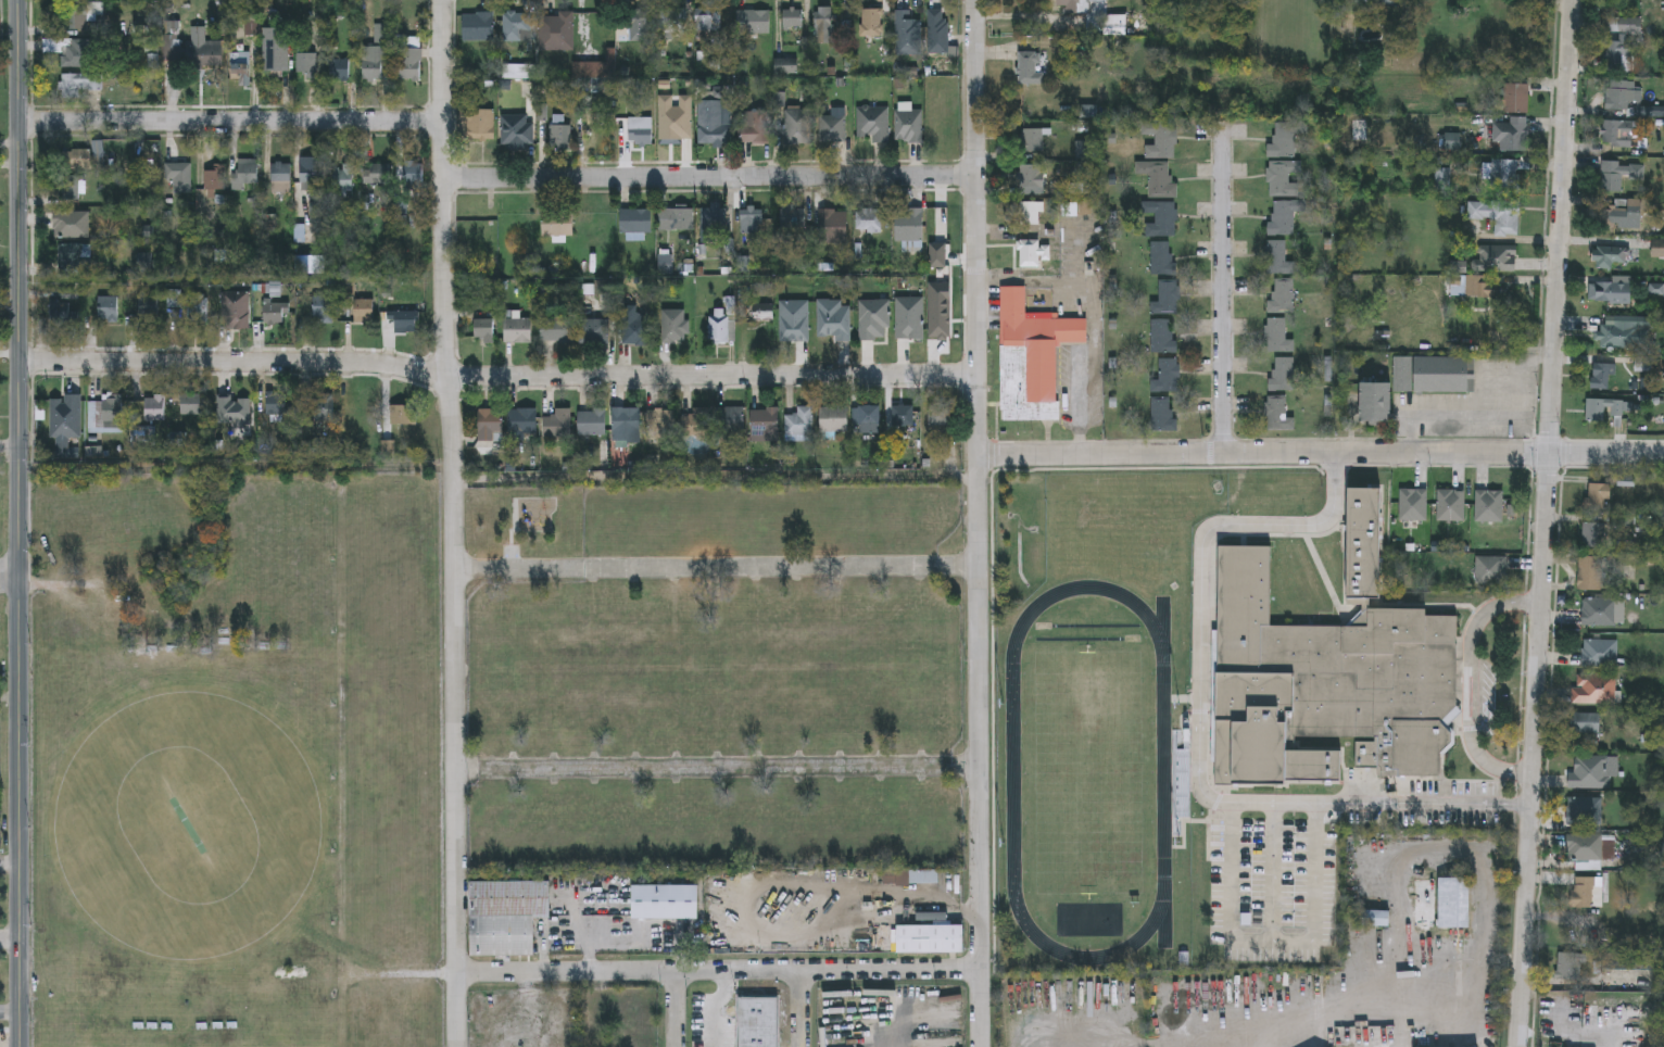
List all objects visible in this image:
building: (76, 0)
building: (1385, 2)
building: (1072, 7)
building: (73, 16)
building: (792, 18)
building: (672, 20)
building: (707, 20)
building: (753, 22)
building: (871, 22)
building: (824, 24)
building: (478, 26)
building: (516, 26)
building: (636, 26)
building: (908, 29)
building: (937, 30)
building: (556, 31)
building: (1619, 40)
building: (73, 50)
building: (275, 50)
building: (192, 51)
building: (376, 53)
building: (1031, 61)
building: (407, 64)
building: (306, 65)
building: (239, 70)
building: (338, 70)
building: (78, 84)
building: (1621, 92)
building: (1517, 96)
road: (229, 123)
building: (711, 123)
building: (872, 123)
building: (477, 125)
building: (908, 125)
building: (756, 126)
building: (797, 126)
building: (832, 128)
building: (640, 130)
building: (1618, 130)
building: (517, 131)
building: (1513, 133)
building: (559, 136)
building: (1286, 137)
building: (1032, 139)
building: (1161, 139)
building: (81, 160)
building: (247, 171)
building: (179, 174)
building: (376, 174)
building: (1505, 174)
building: (1610, 174)
building: (311, 175)
building: (1284, 176)
building: (213, 177)
building: (280, 177)
building: (412, 178)
building: (1032, 178)
building: (1159, 178)
building: (342, 179)
road: (709, 182)
building: (68, 188)
building: (1619, 211)
building: (1030, 214)
building: (1285, 215)
building: (1498, 215)
building: (713, 216)
building: (792, 216)
building: (1161, 217)
building: (676, 219)
building: (751, 219)
building: (867, 219)
building: (635, 222)
building: (70, 224)
building: (556, 224)
building: (908, 224)
building: (832, 226)
building: (1036, 252)
building: (1608, 252)
building: (68, 255)
building: (1162, 256)
building: (1277, 256)
building: (1498, 257)
building: (1477, 286)
building: (1610, 289)
road: (1223, 293)
building: (1283, 293)
building: (1168, 298)
building: (188, 303)
building: (108, 308)
building: (147, 308)
building: (234, 308)
building: (322, 308)
building: (60, 310)
building: (362, 310)
building: (274, 312)
building: (762, 312)
building: (406, 320)
building: (673, 325)
building: (634, 327)
building: (718, 328)
building: (517, 329)
building: (483, 330)
building: (556, 330)
building: (592, 330)
building: (1621, 332)
building: (1278, 335)
building: (1162, 336)
building: (1032, 359)
building: (1283, 373)
building: (1601, 374)
building: (1168, 375)
road: (499, 377)
building: (1416, 381)
building: (275, 403)
building: (191, 404)
building: (1605, 406)
building: (153, 407)
building: (323, 408)
building: (104, 413)
building: (1278, 413)
building: (401, 414)
building: (938, 414)
building: (1163, 414)
building: (903, 415)
building: (866, 417)
building: (732, 418)
building: (833, 418)
building: (659, 419)
building: (63, 420)
building: (695, 420)
building: (591, 421)
building: (764, 421)
building: (799, 421)
building: (490, 424)
building: (521, 424)
building: (557, 424)
building: (626, 424)
building: (141, 438)
road: (8, 449)
road: (1321, 454)
building: (1597, 496)
building: (1413, 504)
building: (1450, 505)
building: (1488, 505)
road: (16, 522)
road: (452, 522)
road: (980, 522)
road: (1545, 522)
building: (1594, 534)
road: (519, 569)
road: (783, 569)
building: (1489, 569)
building: (1590, 572)
road: (8, 577)
building: (1603, 611)
building: (1600, 654)
building: (1329, 676)
road: (1472, 683)
building: (1594, 689)
building: (1585, 723)
road: (1202, 728)
road: (462, 770)
road: (715, 770)
road: (970, 771)
building: (1590, 772)
track: (1013, 780)
building: (1584, 810)
building: (1584, 847)
road: (1274, 873)
building: (923, 876)
road: (1314, 892)
road: (1227, 893)
building: (1583, 893)
building: (1453, 901)
building: (507, 916)
building: (931, 938)
building: (1568, 964)
road: (717, 973)
road: (1478, 974)
road: (802, 1009)
road: (675, 1010)
building: (758, 1022)
road: (1252, 1038)

